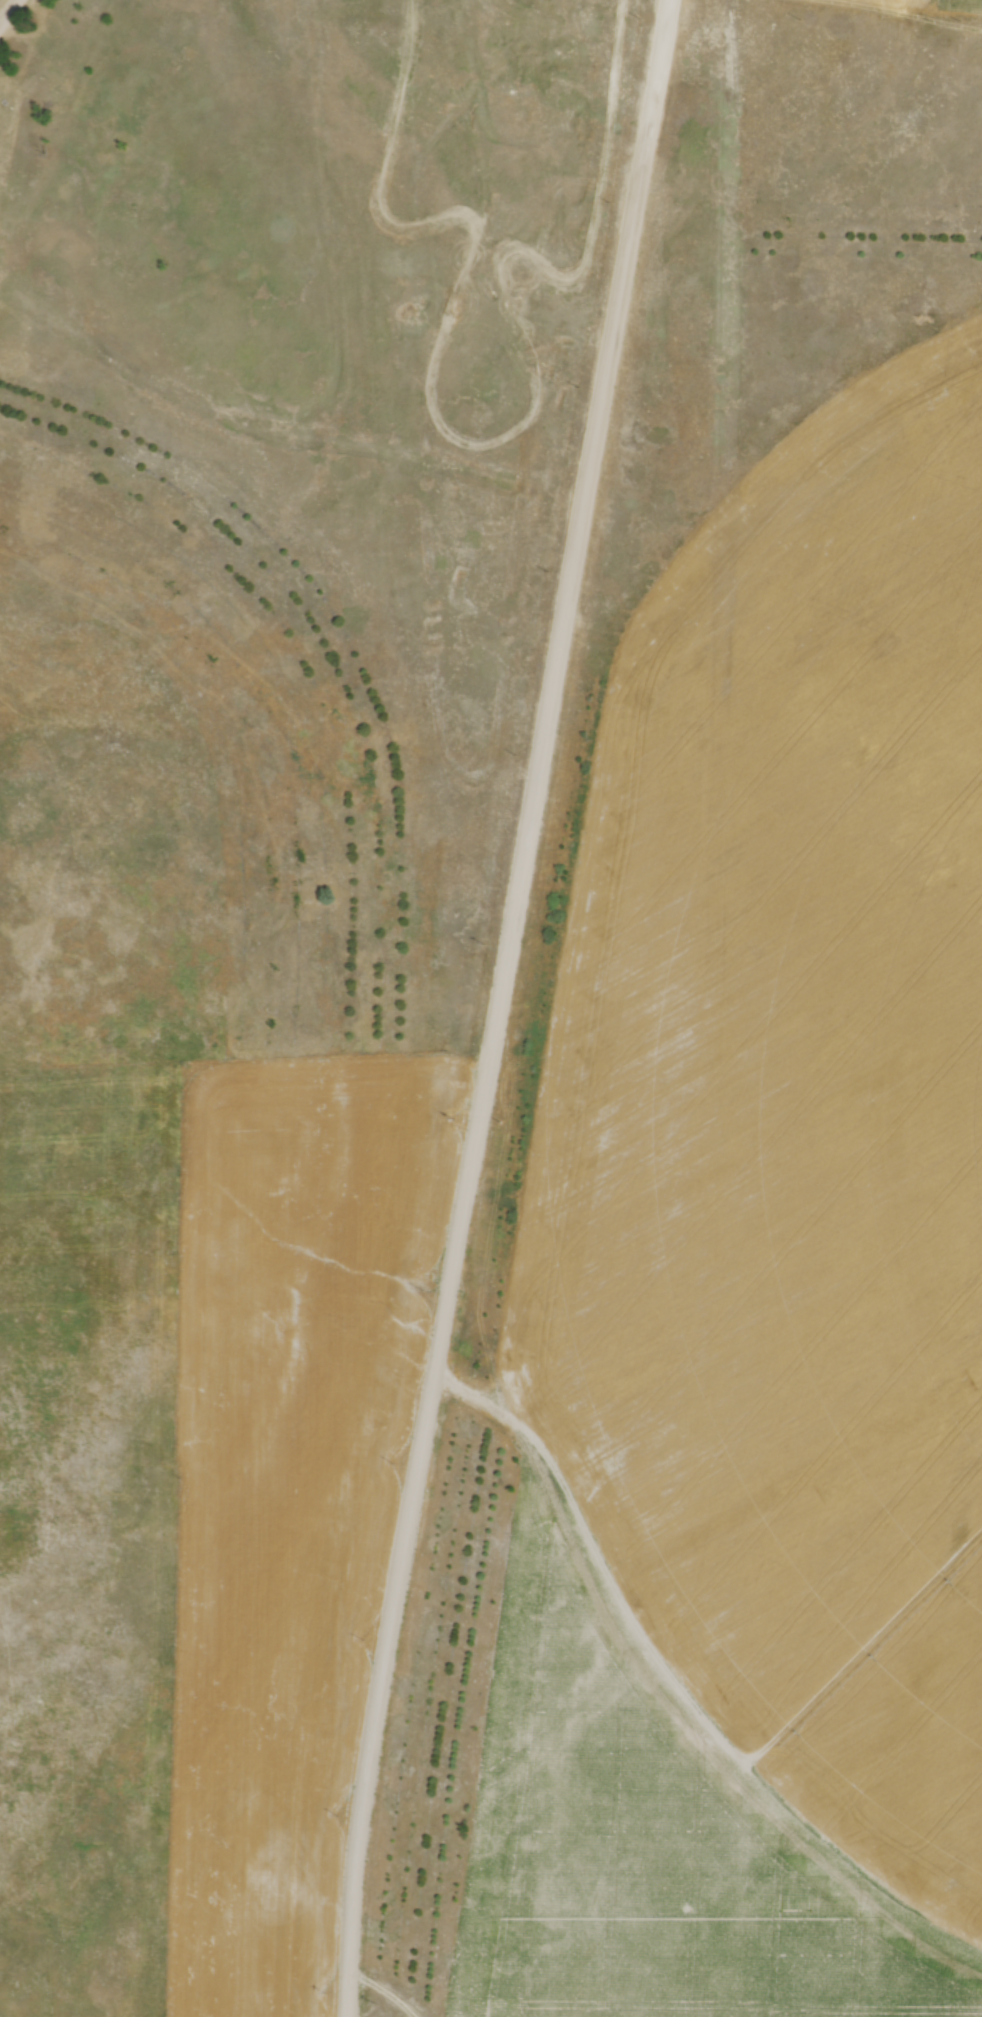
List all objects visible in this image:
road: (6, 8)
road: (495, 1007)

